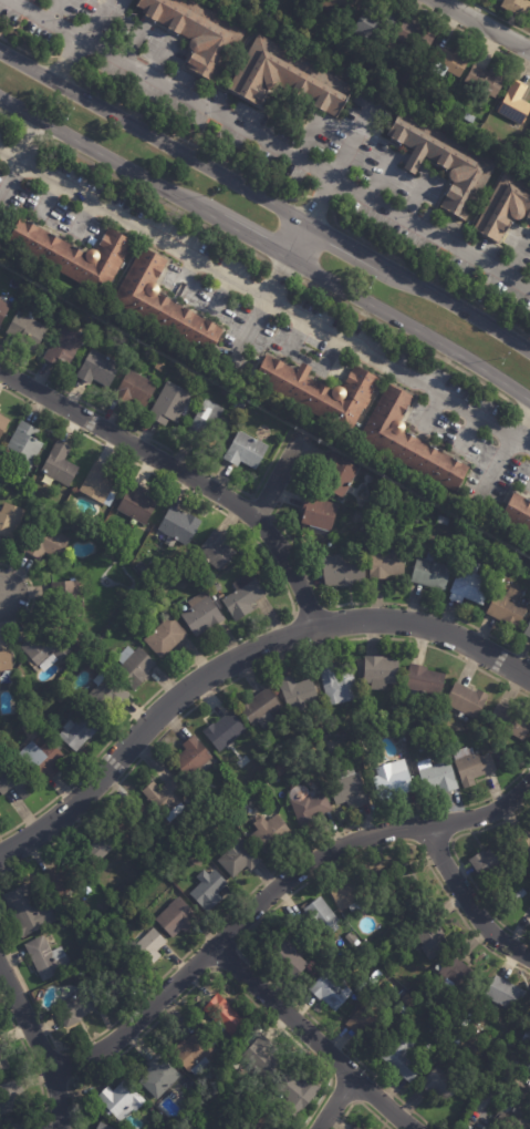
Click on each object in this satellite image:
building: (303, 1)
building: (340, 7)
building: (517, 7)
road: (43, 17)
road: (496, 17)
road: (97, 20)
building: (374, 23)
road: (482, 25)
building: (198, 33)
road: (467, 33)
building: (415, 35)
road: (522, 49)
road: (27, 53)
road: (65, 60)
building: (449, 60)
building: (409, 74)
building: (285, 76)
building: (486, 81)
road: (204, 102)
building: (515, 103)
building: (469, 117)
road: (11, 119)
road: (34, 131)
road: (153, 137)
parking lot: (287, 137)
road: (186, 141)
road: (25, 142)
road: (349, 142)
road: (107, 160)
building: (445, 161)
road: (412, 162)
road: (383, 170)
road: (419, 192)
road: (157, 201)
road: (318, 202)
building: (503, 207)
road: (430, 232)
road: (250, 238)
road: (297, 240)
road: (350, 247)
road: (517, 254)
building: (73, 255)
road: (280, 269)
road: (425, 275)
road: (274, 278)
road: (257, 296)
building: (162, 304)
building: (3, 309)
road: (461, 310)
parking lot: (257, 312)
road: (409, 327)
building: (27, 329)
building: (102, 330)
road: (404, 337)
building: (64, 346)
building: (97, 368)
building: (134, 389)
building: (319, 391)
building: (168, 403)
building: (238, 407)
road: (521, 409)
building: (2, 423)
building: (206, 423)
road: (516, 435)
building: (408, 442)
road: (158, 444)
building: (24, 445)
building: (245, 452)
building: (59, 468)
road: (490, 468)
road: (184, 473)
building: (337, 475)
road: (277, 478)
building: (97, 483)
road: (250, 496)
building: (136, 504)
building: (518, 513)
building: (316, 517)
building: (443, 520)
building: (10, 521)
building: (179, 526)
building: (45, 543)
building: (216, 551)
building: (386, 561)
building: (343, 572)
building: (430, 573)
building: (470, 585)
road: (32, 595)
building: (243, 597)
building: (66, 601)
road: (340, 604)
road: (328, 605)
road: (292, 608)
building: (507, 608)
building: (201, 615)
building: (527, 629)
building: (165, 637)
building: (44, 648)
road: (237, 657)
building: (6, 661)
building: (134, 666)
building: (381, 670)
building: (21, 671)
road: (239, 676)
building: (424, 679)
building: (337, 684)
building: (297, 689)
building: (105, 695)
building: (466, 699)
building: (393, 704)
building: (259, 706)
building: (510, 720)
building: (344, 722)
building: (225, 729)
building: (79, 732)
building: (447, 735)
building: (422, 742)
building: (479, 746)
building: (193, 755)
building: (41, 760)
building: (472, 764)
building: (282, 766)
building: (436, 773)
building: (393, 779)
building: (14, 781)
building: (349, 788)
building: (168, 796)
building: (309, 809)
building: (129, 819)
building: (269, 832)
road: (358, 839)
road: (449, 839)
building: (524, 841)
building: (98, 848)
building: (239, 858)
road: (458, 861)
building: (487, 861)
building: (403, 876)
building: (63, 877)
building: (121, 889)
building: (209, 889)
building: (354, 894)
road: (466, 901)
building: (61, 902)
road: (276, 904)
building: (28, 911)
road: (228, 913)
building: (528, 914)
building: (322, 915)
building: (177, 916)
building: (106, 927)
building: (429, 935)
building: (98, 937)
building: (351, 937)
building: (147, 946)
road: (235, 947)
building: (288, 955)
building: (46, 956)
building: (96, 962)
road: (207, 972)
building: (456, 975)
building: (118, 978)
building: (392, 985)
building: (331, 988)
building: (505, 993)
building: (409, 1000)
building: (75, 1007)
building: (222, 1015)
road: (137, 1017)
road: (25, 1018)
building: (368, 1022)
road: (311, 1037)
building: (526, 1038)
building: (243, 1039)
building: (456, 1039)
building: (194, 1050)
building: (262, 1056)
building: (402, 1058)
road: (31, 1060)
building: (2, 1063)
building: (498, 1065)
building: (510, 1074)
building: (157, 1077)
road: (71, 1079)
building: (443, 1081)
building: (298, 1092)
building: (11, 1096)
road: (56, 1099)
building: (119, 1100)
road: (334, 1101)
road: (354, 1101)
road: (360, 1102)
building: (517, 1113)
building: (259, 1121)
building: (14, 1126)
building: (103, 1127)
building: (356, 1128)

